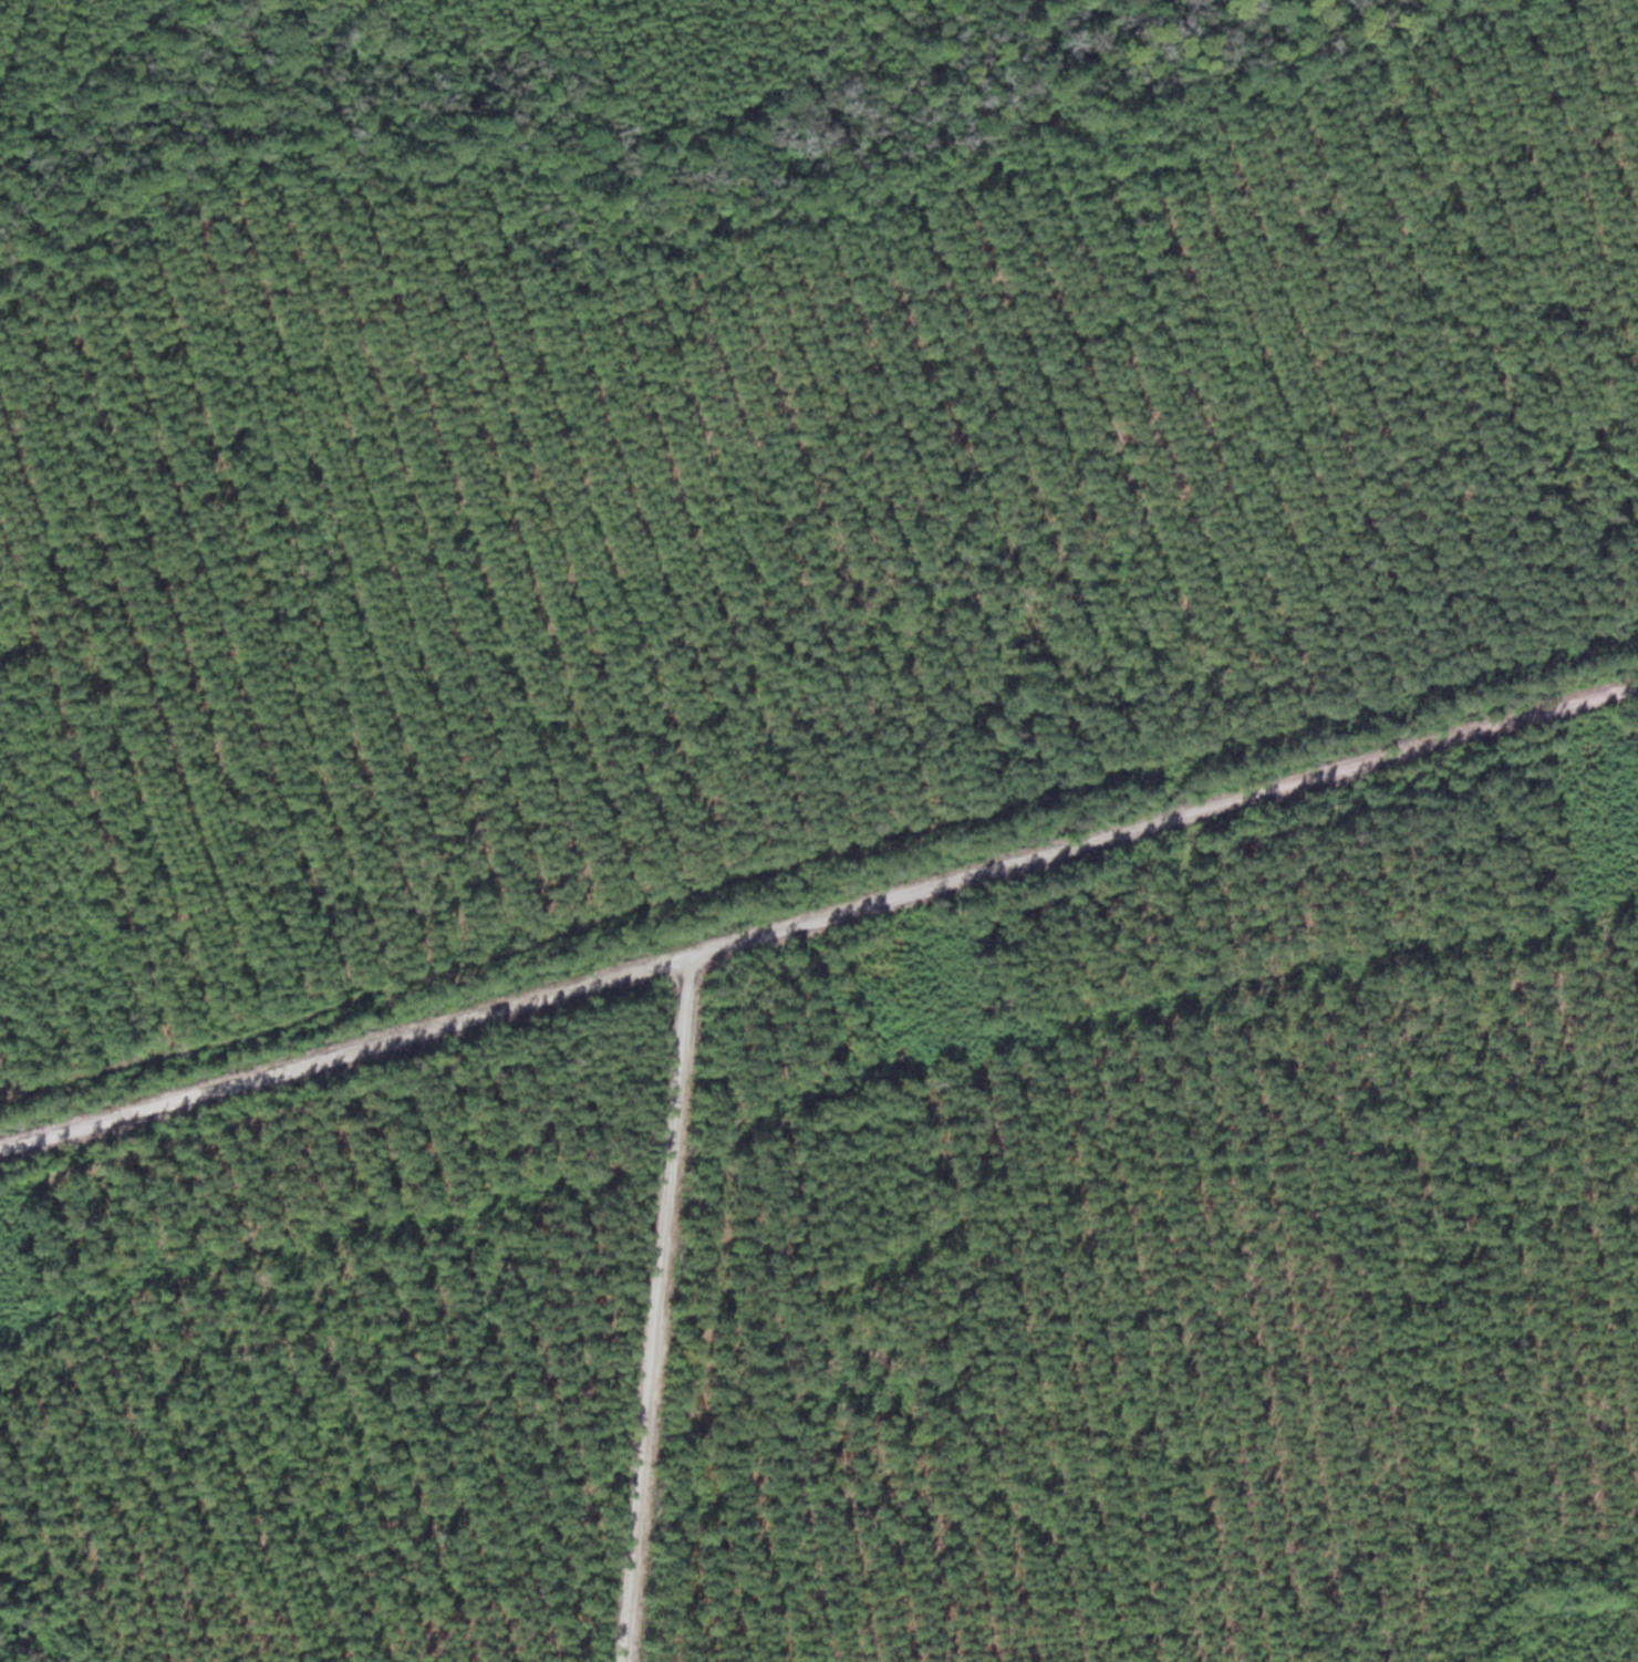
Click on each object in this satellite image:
road: (818, 926)
road: (672, 1315)

